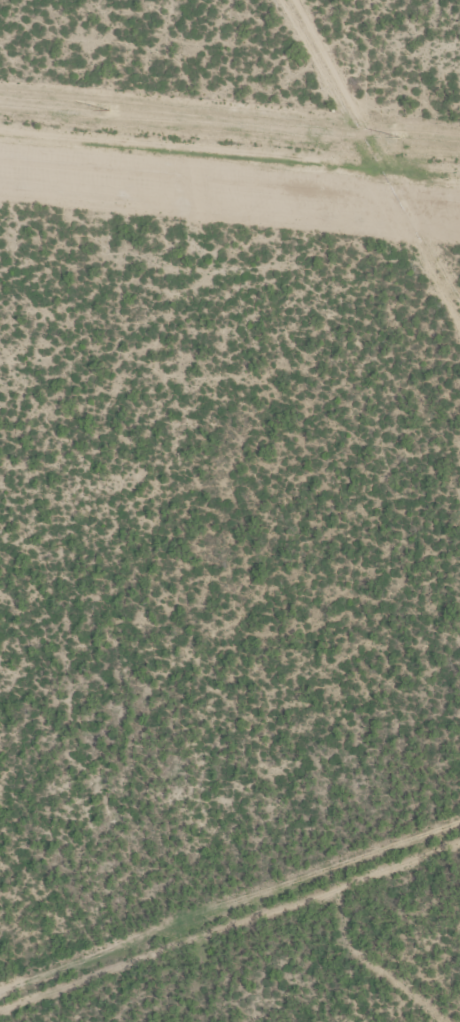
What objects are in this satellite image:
road: (230, 929)

